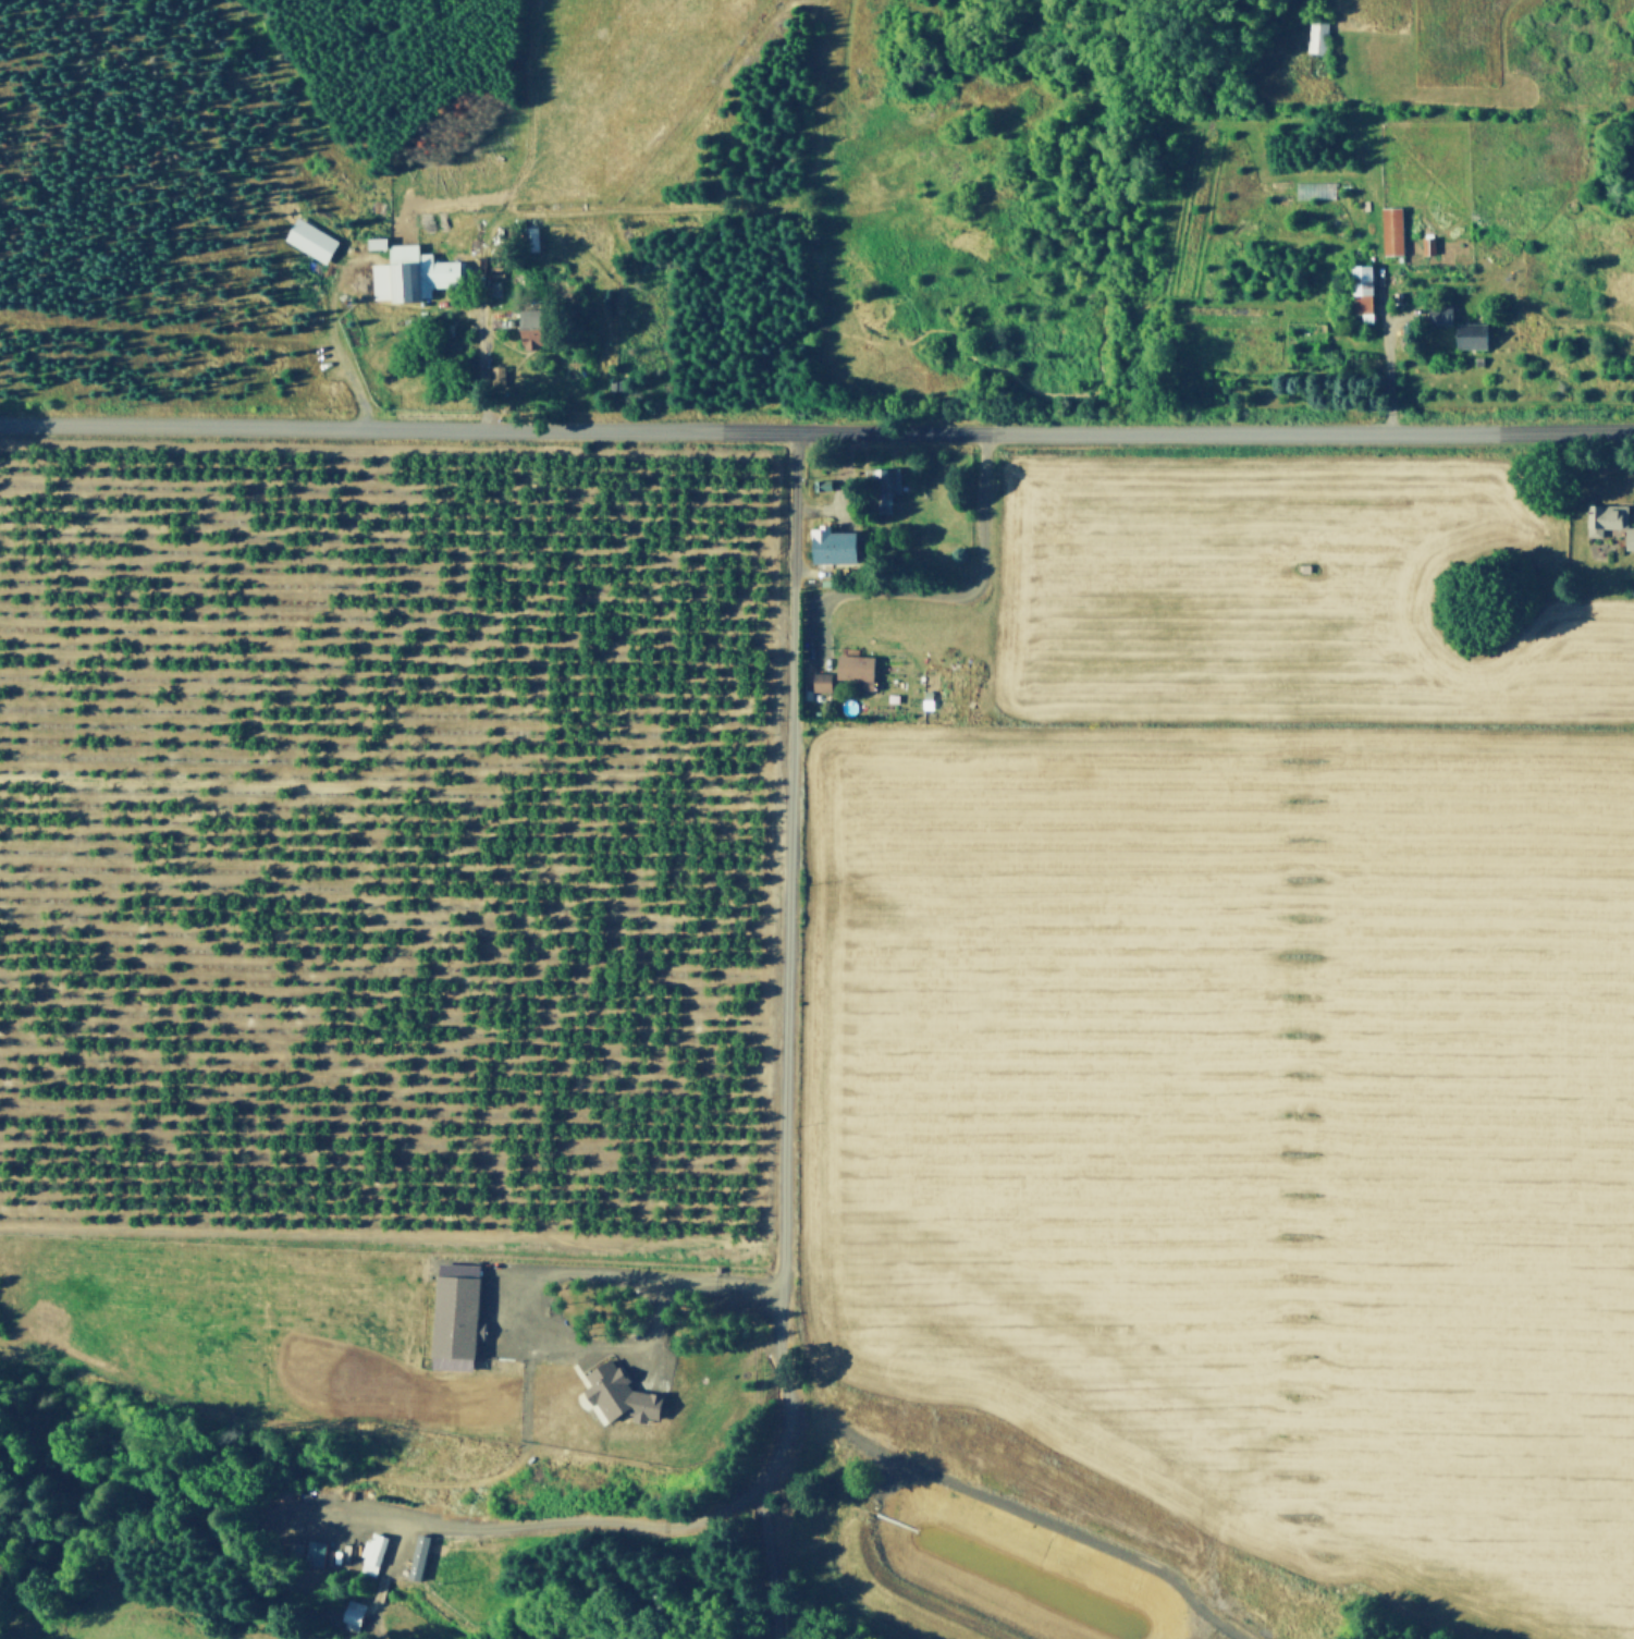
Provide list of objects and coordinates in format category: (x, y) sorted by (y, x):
building: (1316, 34)
building: (1389, 228)
building: (529, 235)
building: (311, 241)
building: (1427, 242)
building: (377, 243)
building: (365, 246)
building: (402, 277)
building: (492, 285)
building: (1359, 286)
building: (1396, 296)
building: (1438, 311)
building: (532, 325)
building: (1471, 332)
road: (482, 360)
road: (1388, 364)
building: (495, 370)
road: (816, 427)
building: (882, 476)
building: (818, 482)
building: (882, 496)
road: (832, 504)
road: (845, 514)
building: (1607, 518)
building: (1630, 540)
building: (832, 542)
building: (824, 579)
road: (938, 588)
crop: (1271, 591)
building: (846, 646)
building: (853, 663)
building: (820, 677)
building: (867, 682)
building: (806, 692)
building: (879, 710)
road: (786, 959)
crop: (1236, 1137)
road: (549, 1272)
building: (460, 1317)
building: (624, 1395)
road: (391, 1417)
road: (332, 1514)
road: (529, 1525)
building: (314, 1552)
building: (376, 1555)
road: (771, 1555)
building: (417, 1558)
crop: (923, 1598)
building: (357, 1616)
crop: (143, 1634)
road: (221, 1637)

